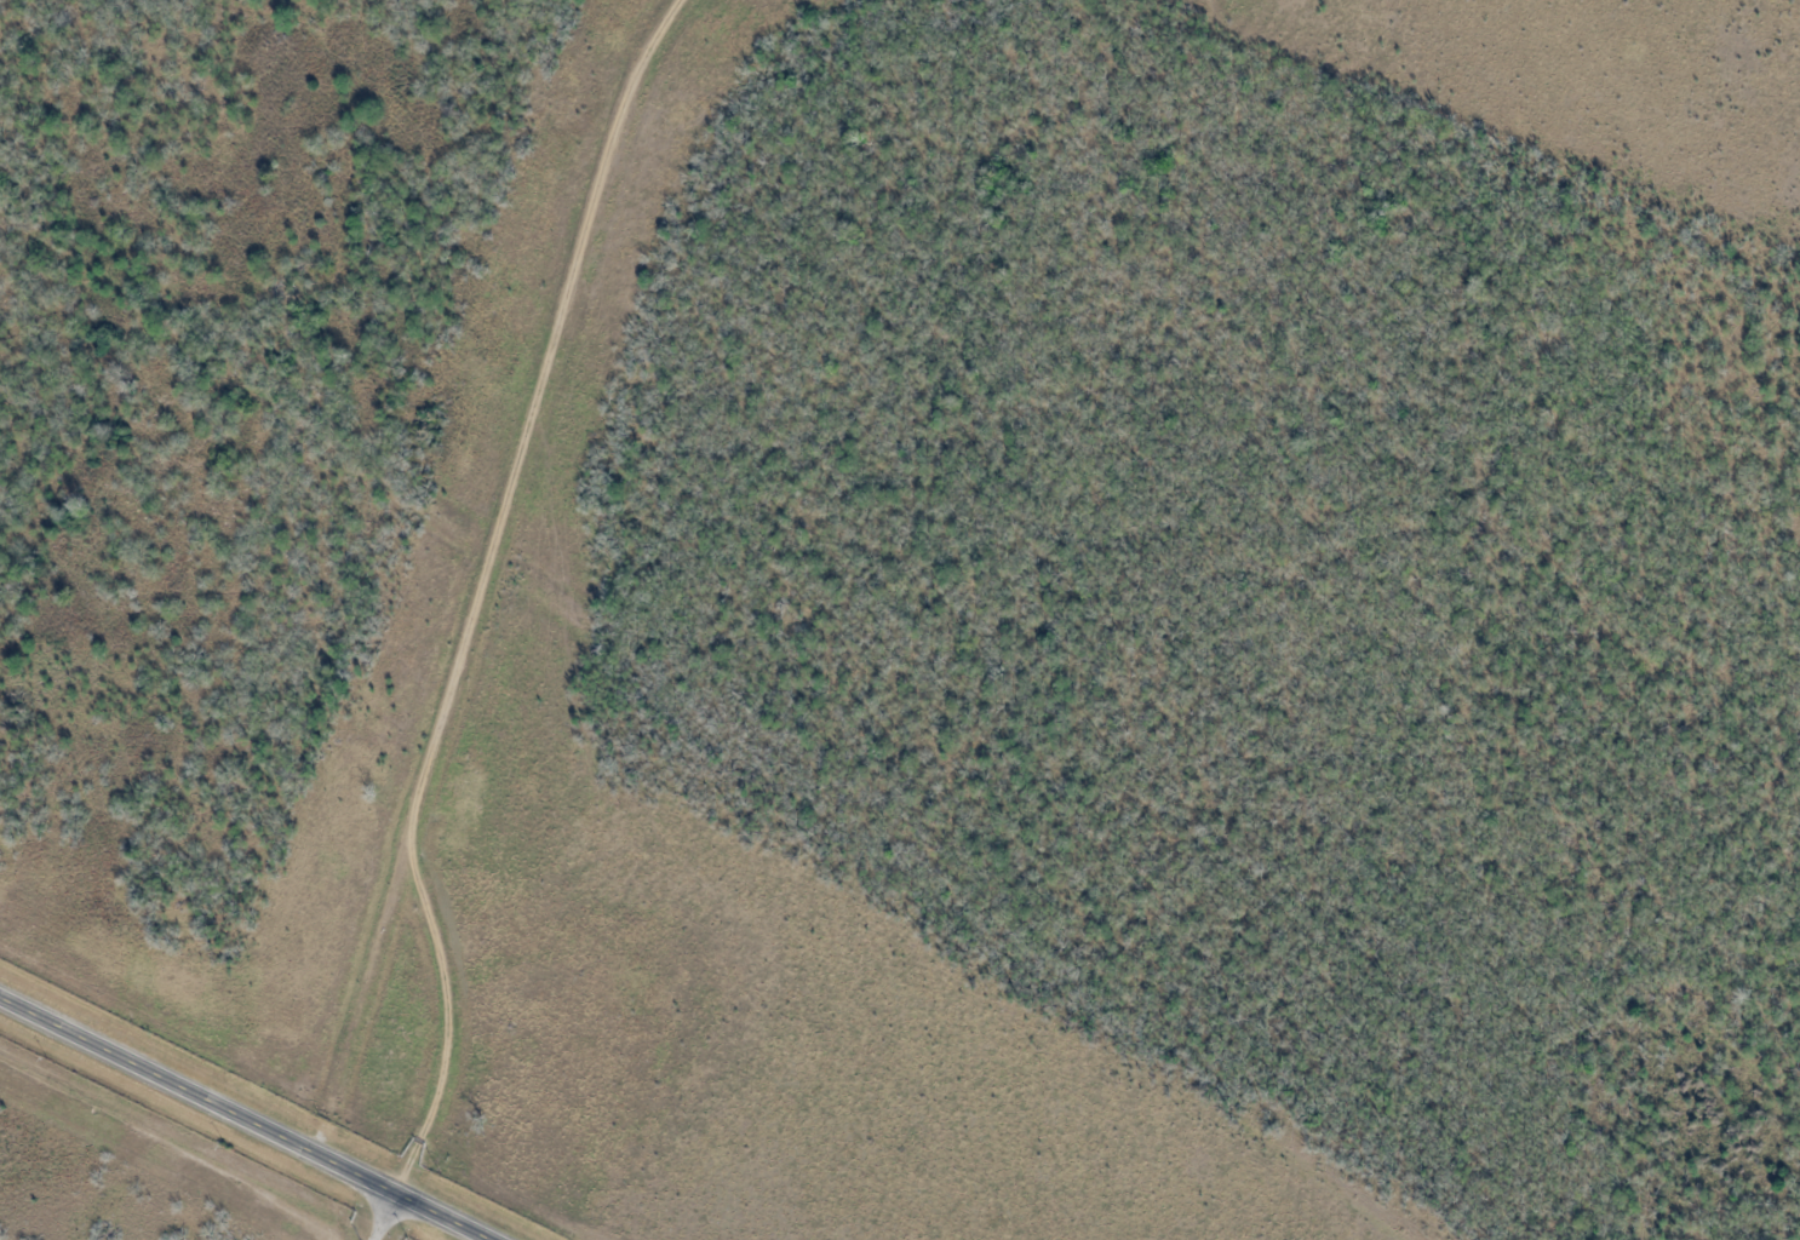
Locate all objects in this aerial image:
road: (477, 590)
road: (247, 1116)
road: (382, 1215)

